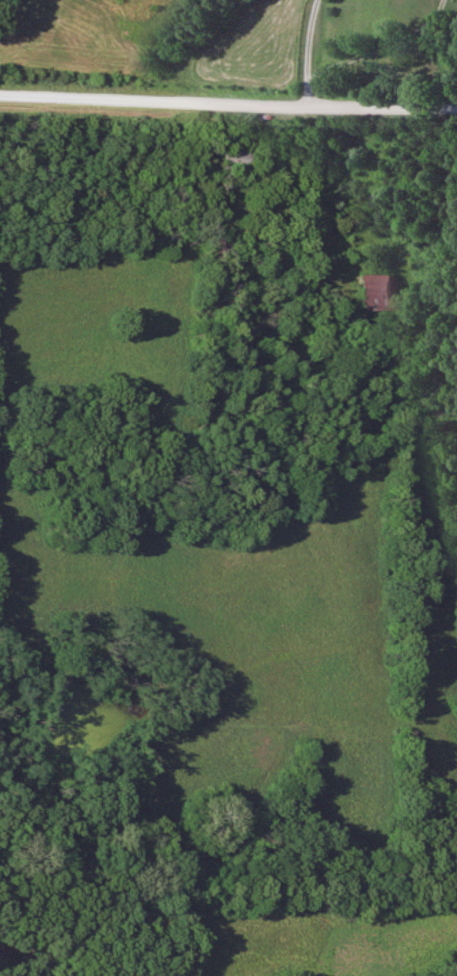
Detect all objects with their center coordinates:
road: (228, 99)

